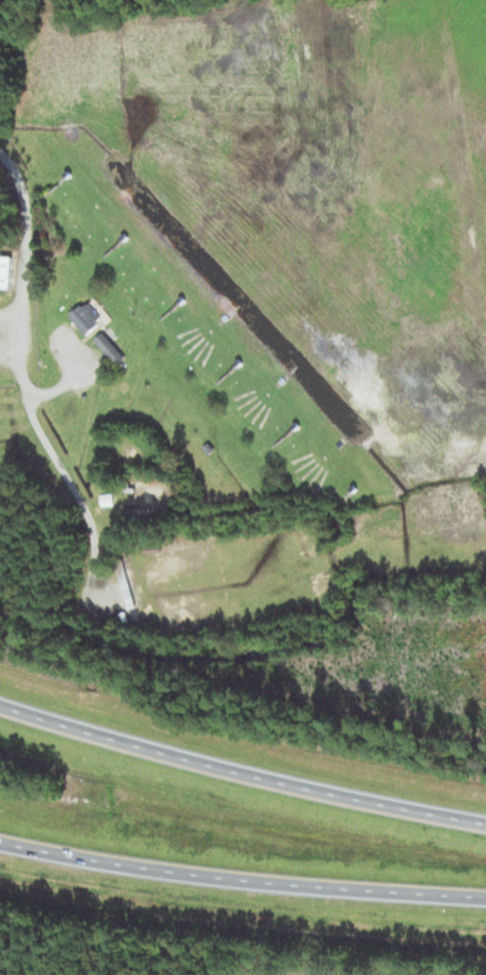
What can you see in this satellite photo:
building: (84, 317)
building: (109, 348)
road: (26, 382)
building: (107, 500)
building: (125, 585)
road: (240, 772)
road: (242, 878)

